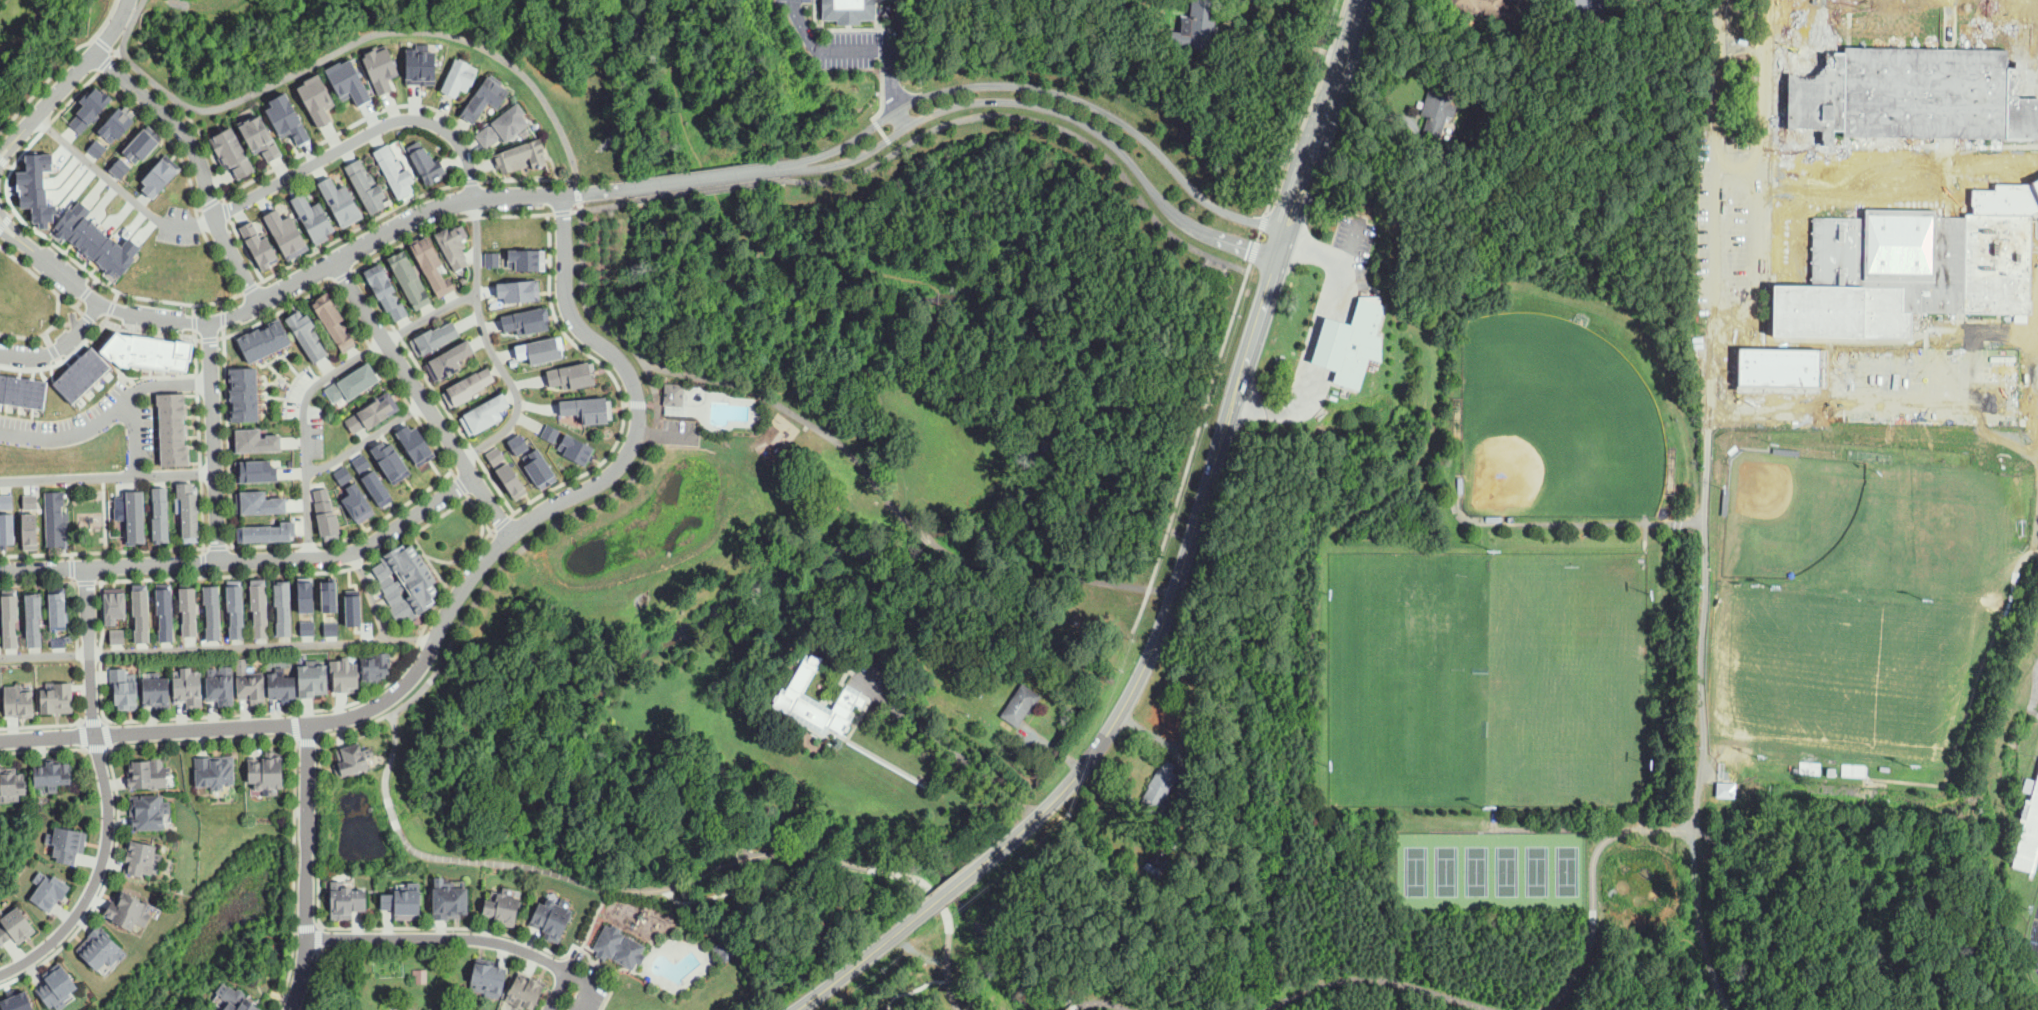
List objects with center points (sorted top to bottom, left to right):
building: (849, 9)
building: (1485, 9)
building: (1584, 10)
building: (1406, 19)
building: (1197, 27)
parking lot: (831, 39)
building: (1499, 40)
road: (347, 45)
road: (866, 48)
road: (107, 62)
building: (420, 63)
road: (60, 66)
building: (381, 66)
road: (74, 73)
building: (458, 77)
building: (347, 80)
road: (1047, 90)
building: (1906, 92)
building: (315, 96)
building: (484, 96)
building: (1439, 105)
road: (633, 107)
building: (87, 108)
road: (1048, 108)
road: (1324, 115)
building: (284, 117)
road: (365, 118)
road: (1035, 118)
building: (114, 124)
building: (501, 125)
road: (360, 136)
road: (1787, 136)
building: (261, 137)
road: (169, 140)
building: (140, 143)
road: (6, 144)
road: (206, 145)
building: (95, 146)
building: (232, 152)
road: (8, 154)
building: (520, 155)
building: (425, 159)
road: (3, 161)
road: (199, 161)
road: (8, 165)
building: (118, 166)
building: (392, 171)
building: (152, 176)
road: (712, 177)
road: (528, 179)
road: (472, 182)
building: (365, 186)
road: (119, 187)
building: (38, 188)
road: (709, 190)
road: (579, 192)
building: (340, 201)
road: (210, 202)
building: (1792, 204)
road: (609, 206)
road: (199, 208)
road: (227, 210)
road: (564, 210)
road: (1714, 212)
road: (13, 213)
road: (413, 216)
building: (313, 218)
road: (5, 221)
building: (1792, 225)
road: (358, 226)
road: (17, 232)
building: (285, 233)
road: (632, 238)
building: (98, 240)
building: (453, 242)
parking lot: (1354, 243)
building: (258, 245)
road: (1347, 247)
road: (245, 249)
building: (1792, 249)
parking lot: (1731, 253)
building: (521, 255)
building: (492, 258)
road: (75, 260)
building: (432, 264)
building: (1912, 266)
road: (28, 268)
road: (343, 275)
building: (409, 277)
road: (94, 282)
building: (372, 286)
building: (511, 287)
road: (250, 288)
building: (385, 288)
road: (85, 292)
flagpole: (1368, 293)
road: (117, 296)
road: (69, 302)
road: (78, 303)
road: (105, 303)
road: (221, 304)
road: (111, 307)
road: (194, 308)
road: (1235, 313)
road: (88, 317)
road: (223, 318)
building: (525, 319)
road: (671, 320)
road: (195, 321)
building: (322, 321)
road: (60, 324)
road: (97, 325)
road: (693, 326)
road: (359, 328)
road: (819, 330)
road: (151, 331)
road: (44, 332)
building: (298, 336)
building: (434, 336)
road: (47, 338)
road: (208, 338)
building: (265, 339)
road: (1318, 339)
building: (1353, 343)
road: (489, 344)
building: (534, 346)
road: (60, 347)
road: (53, 350)
road: (210, 351)
building: (450, 356)
building: (1769, 356)
road: (59, 360)
road: (62, 360)
building: (76, 371)
building: (574, 377)
road: (318, 381)
building: (352, 382)
road: (204, 383)
road: (156, 384)
building: (468, 385)
building: (21, 388)
building: (1377, 390)
building: (242, 394)
building: (677, 394)
road: (422, 397)
road: (641, 403)
building: (584, 409)
building: (370, 413)
building: (484, 413)
road: (798, 416)
park: (1550, 416)
parking lot: (678, 423)
building: (172, 427)
road: (213, 427)
building: (550, 432)
road: (65, 435)
road: (228, 436)
road: (668, 436)
road: (134, 437)
road: (367, 440)
building: (412, 440)
road: (200, 441)
building: (254, 441)
building: (510, 443)
building: (517, 443)
building: (574, 448)
road: (613, 450)
building: (1785, 452)
building: (387, 455)
building: (495, 455)
road: (647, 457)
building: (263, 467)
building: (538, 468)
road: (107, 476)
building: (368, 476)
building: (509, 480)
building: (347, 490)
building: (259, 500)
building: (1724, 502)
road: (478, 510)
building: (187, 511)
building: (327, 513)
road: (104, 514)
building: (160, 514)
building: (6, 516)
road: (216, 516)
park: (91, 517)
building: (132, 517)
building: (53, 518)
building: (27, 520)
road: (1672, 523)
building: (267, 530)
park: (1868, 530)
road: (481, 531)
road: (924, 533)
road: (349, 537)
road: (218, 546)
road: (104, 551)
road: (2037, 553)
building: (394, 559)
road: (247, 560)
road: (429, 560)
road: (447, 561)
road: (204, 562)
road: (73, 567)
building: (410, 567)
road: (204, 573)
road: (245, 574)
road: (1049, 577)
road: (1178, 578)
building: (418, 580)
building: (387, 583)
building: (308, 595)
road: (370, 595)
building: (392, 595)
road: (455, 596)
building: (331, 597)
building: (414, 601)
building: (112, 603)
building: (235, 607)
building: (260, 607)
building: (251, 608)
building: (286, 608)
building: (355, 608)
building: (59, 609)
building: (189, 609)
building: (227, 609)
building: (276, 610)
building: (213, 611)
building: (181, 612)
building: (142, 613)
building: (166, 613)
road: (76, 617)
building: (11, 619)
building: (25, 620)
building: (4, 621)
building: (34, 621)
road: (1704, 624)
building: (308, 628)
building: (332, 629)
building: (114, 636)
building: (60, 643)
road: (261, 644)
road: (44, 653)
building: (374, 666)
building: (344, 674)
park: (1838, 674)
park: (1482, 678)
building: (312, 679)
building: (247, 681)
building: (219, 685)
building: (280, 685)
road: (424, 685)
building: (187, 686)
building: (123, 688)
building: (154, 690)
building: (57, 697)
building: (788, 697)
building: (17, 700)
building: (1020, 705)
road: (105, 720)
road: (80, 721)
road: (93, 721)
road: (40, 725)
road: (295, 726)
road: (107, 733)
road: (84, 735)
road: (203, 741)
road: (307, 742)
road: (97, 747)
road: (111, 748)
road: (948, 748)
road: (41, 749)
road: (84, 749)
road: (391, 755)
building: (349, 760)
building: (1780, 766)
building: (270, 768)
building: (1793, 769)
building: (218, 770)
building: (50, 772)
building: (144, 773)
building: (11, 783)
road: (1946, 783)
building: (1158, 787)
building: (1726, 791)
road: (106, 792)
building: (1208, 794)
road: (570, 800)
road: (1243, 800)
building: (146, 811)
road: (393, 812)
road: (1502, 827)
road: (1613, 829)
road: (1659, 829)
building: (2028, 833)
road: (1719, 840)
building: (67, 844)
building: (1195, 855)
building: (138, 857)
road: (498, 862)
road: (723, 864)
building: (1155, 864)
road: (306, 867)
road: (1730, 869)
park: (1491, 871)
building: (1977, 872)
road: (293, 877)
road: (915, 880)
road: (102, 889)
building: (1169, 889)
building: (50, 890)
road: (947, 891)
road: (821, 896)
building: (345, 900)
building: (449, 900)
building: (406, 902)
building: (503, 907)
building: (128, 910)
road: (1743, 910)
building: (552, 918)
road: (1700, 922)
road: (1594, 923)
road: (306, 925)
building: (16, 927)
road: (368, 927)
road: (589, 930)
road: (320, 936)
road: (440, 937)
track: (2034, 939)
building: (619, 944)
building: (101, 949)
road: (319, 950)
building: (724, 951)
road: (1740, 954)
road: (861, 962)
road: (573, 974)
building: (420, 976)
building: (488, 976)
road: (941, 977)
road: (1378, 978)
road: (313, 980)
parking lot: (580, 985)
road: (1749, 985)
building: (56, 987)
building: (526, 991)
road: (910, 991)
road: (1391, 994)
building: (15, 999)
building: (239, 1000)
building: (394, 1009)

